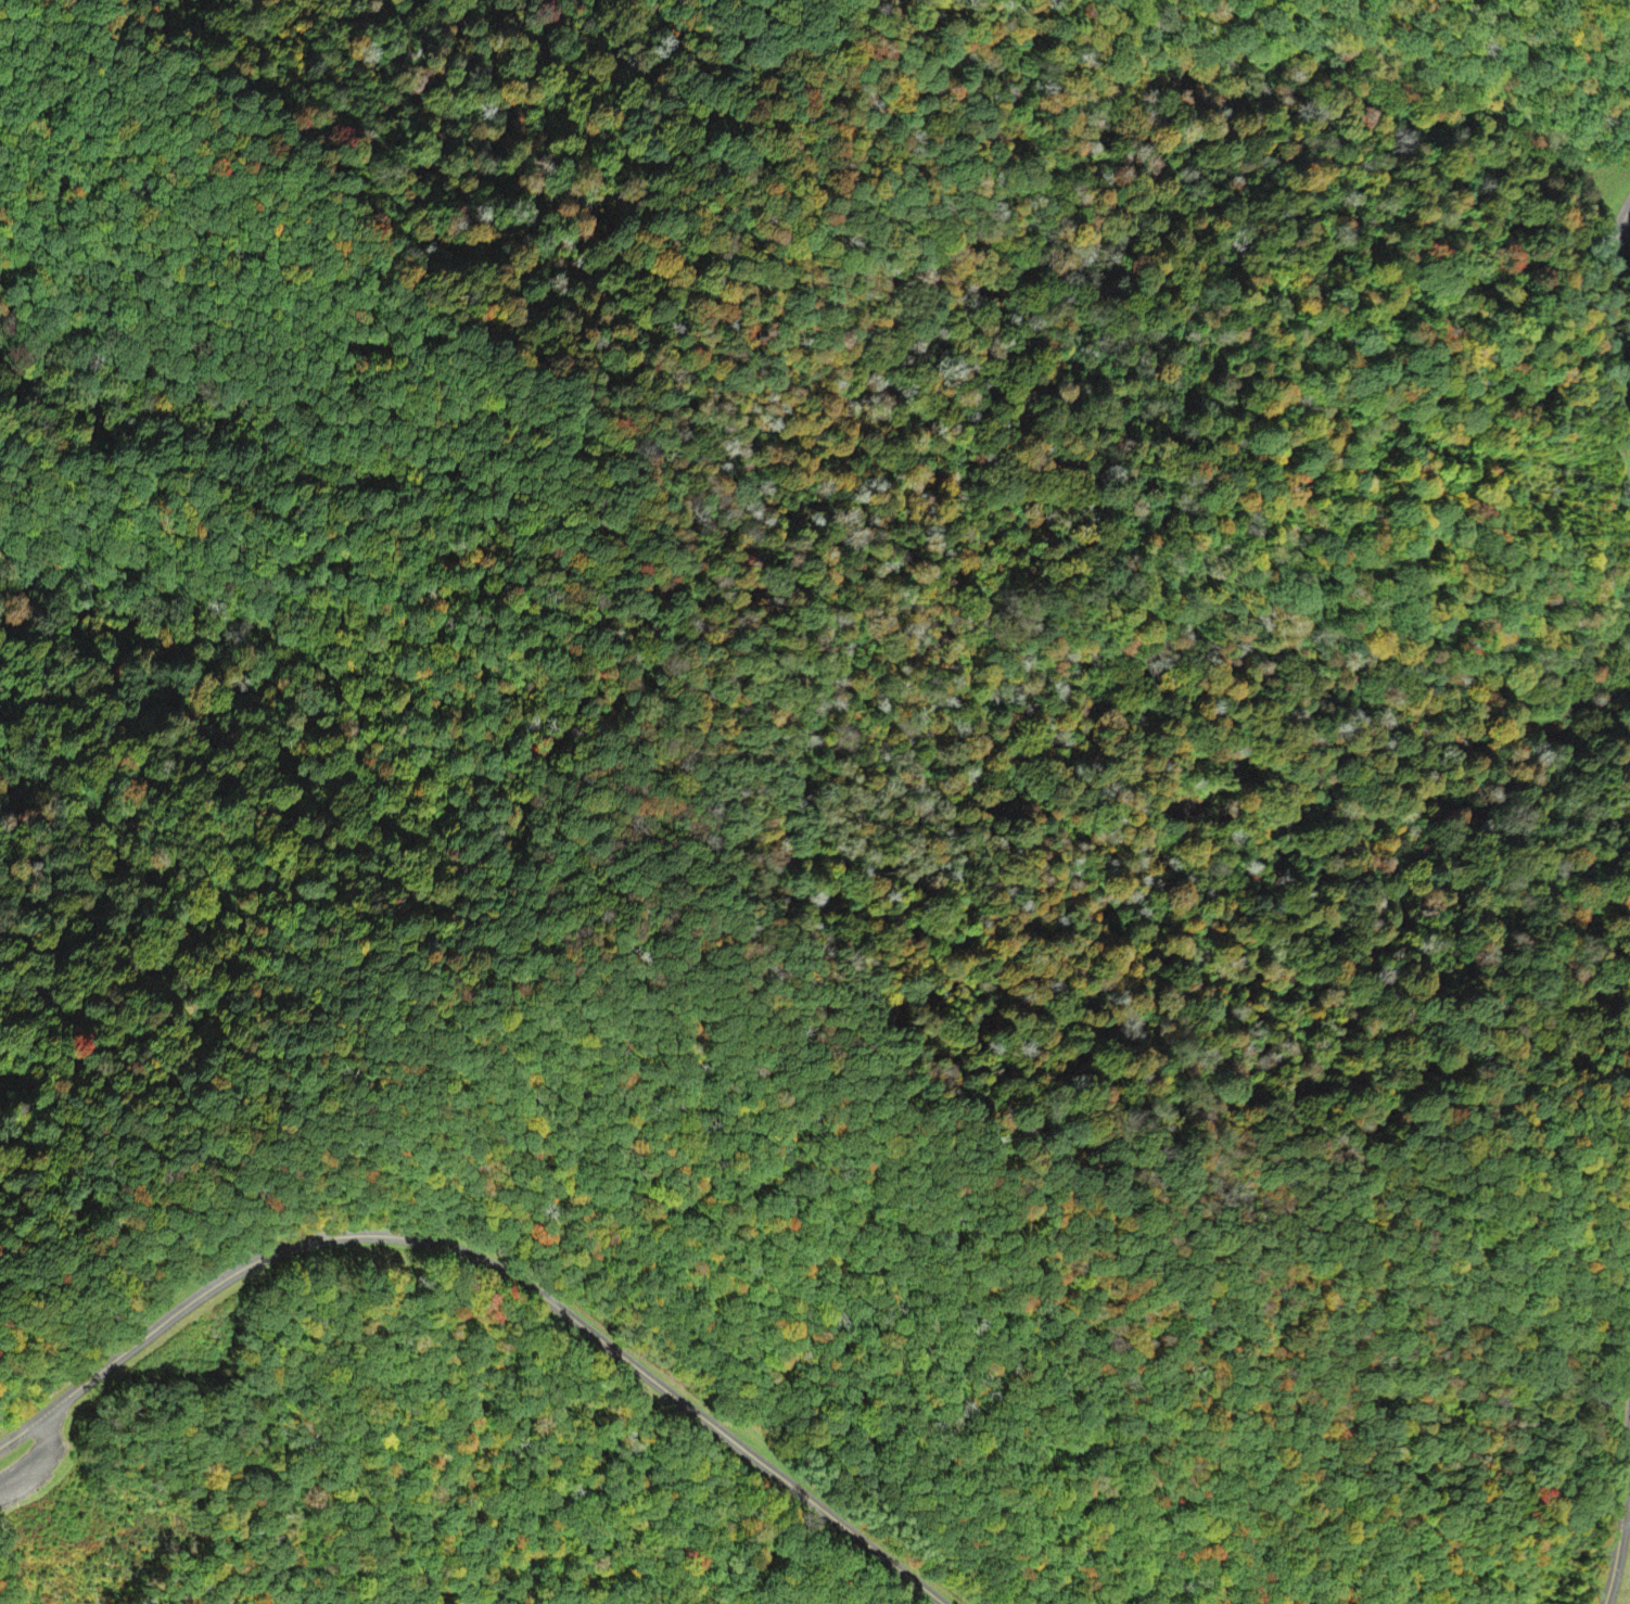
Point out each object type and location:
road: (1610, 354)
road: (495, 1264)
road: (69, 1447)
road: (39, 1461)
parking lot: (31, 1467)
road: (1629, 1504)
road: (1623, 1542)

